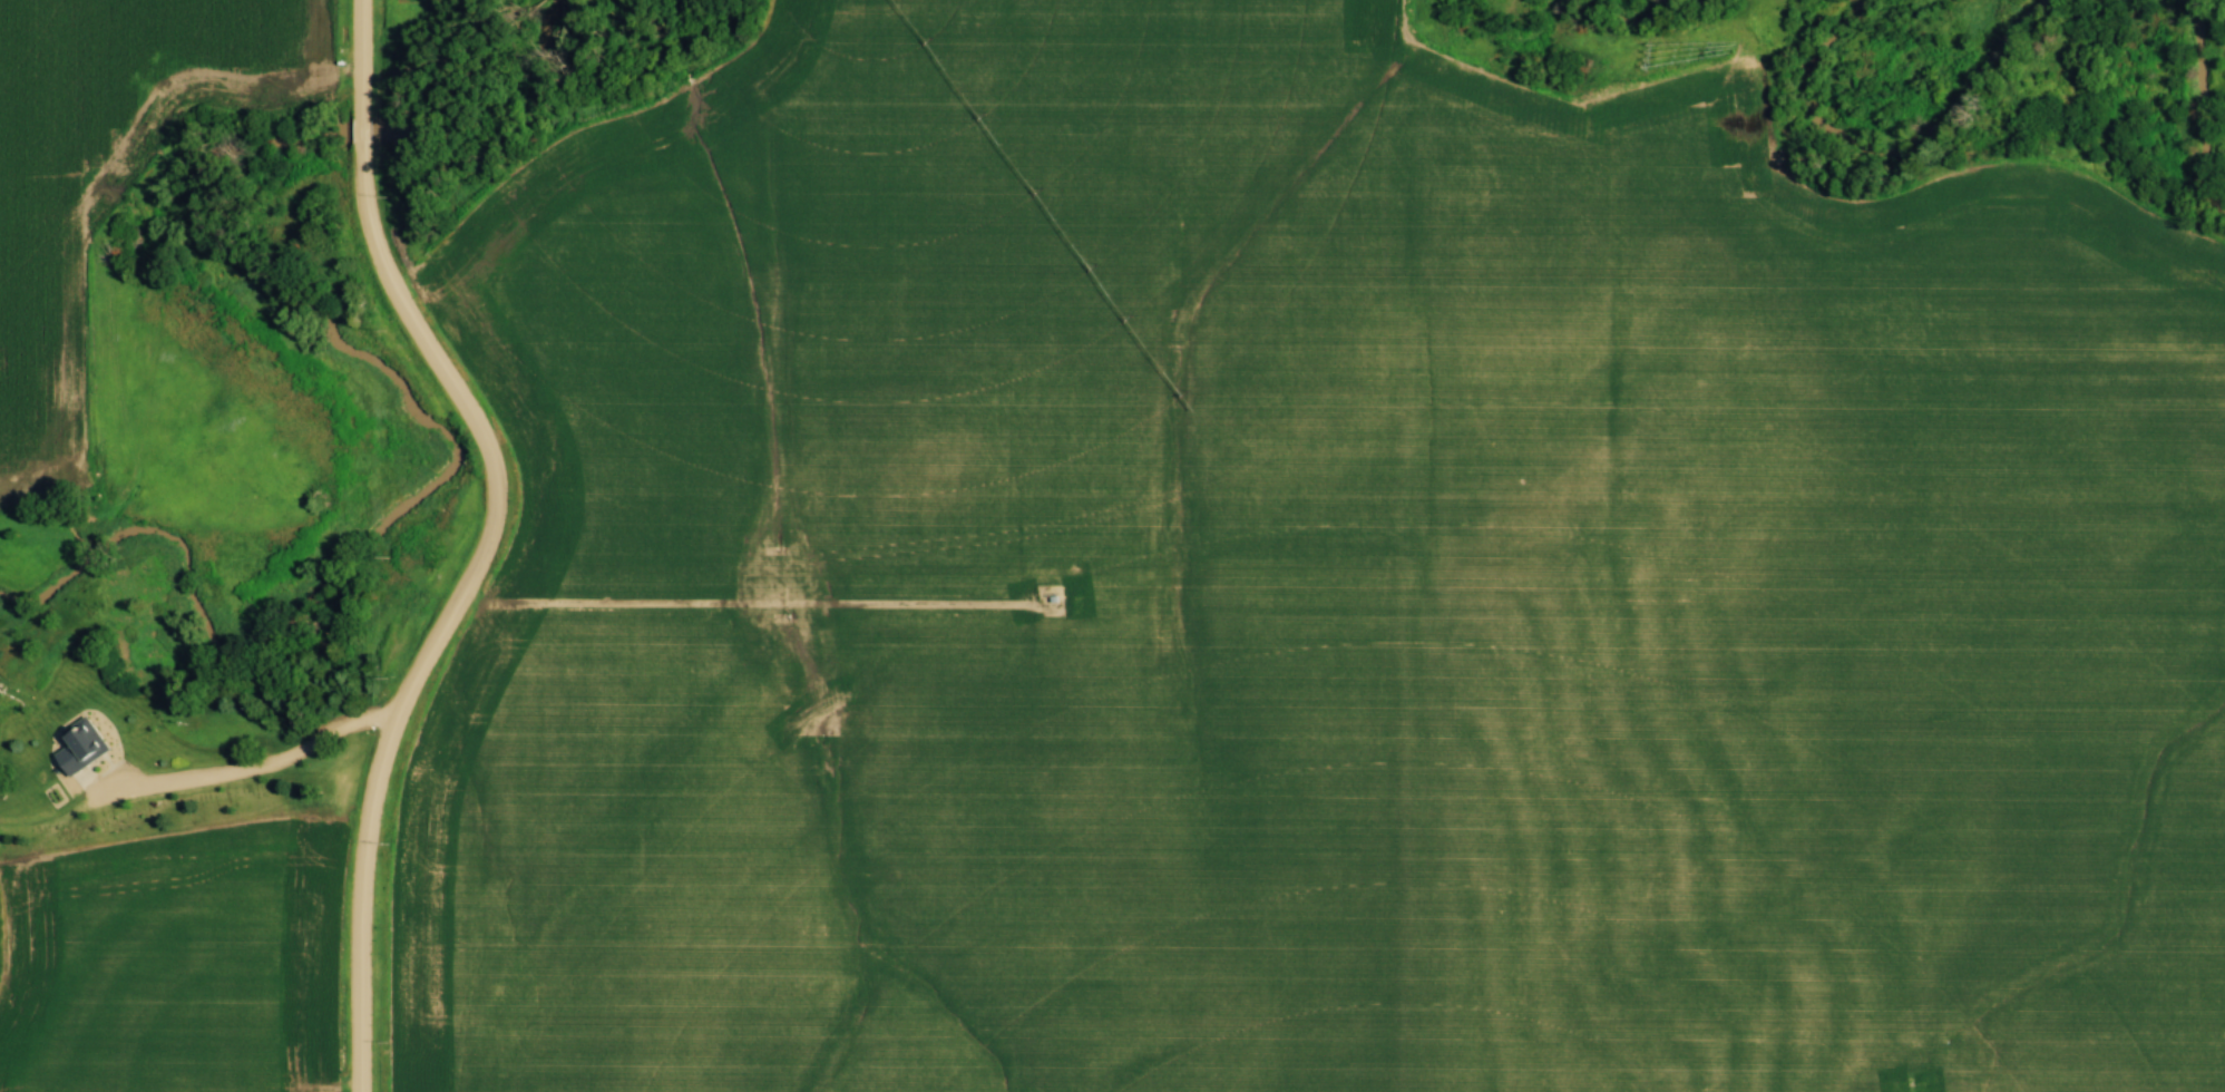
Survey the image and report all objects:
river: (1611, 7)
river: (520, 104)
river: (2204, 108)
river: (1900, 117)
river: (361, 131)
river: (435, 482)
road: (492, 543)
building: (80, 748)

